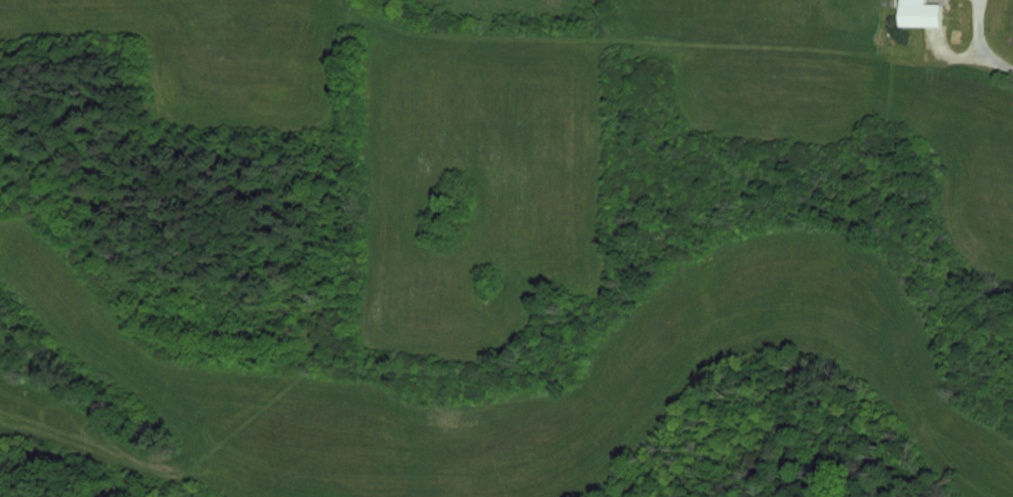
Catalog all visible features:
building: (918, 13)
road: (1002, 63)

